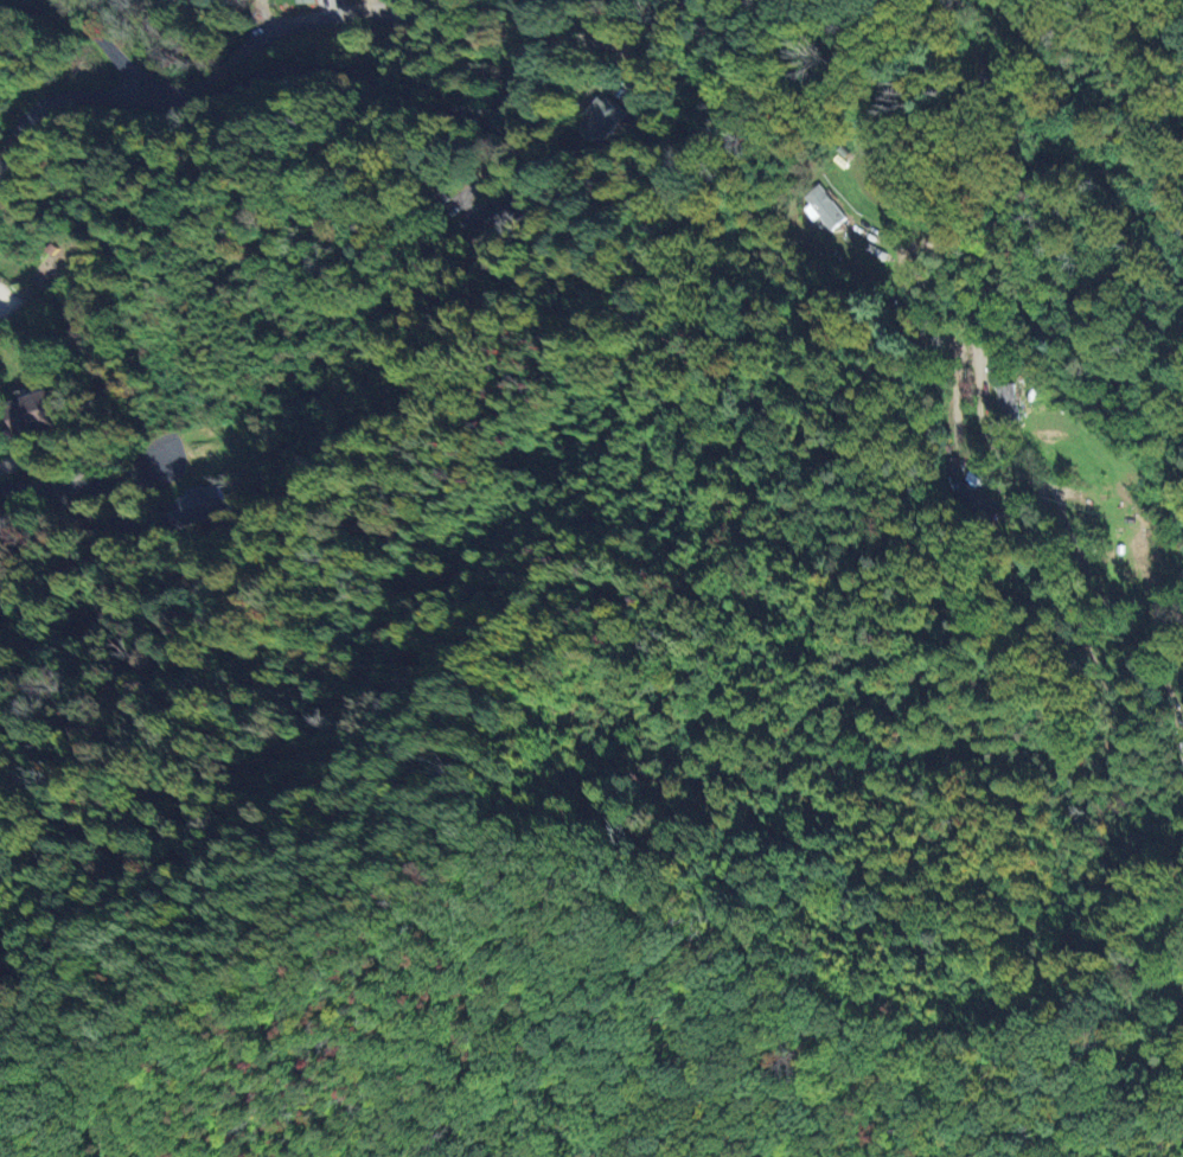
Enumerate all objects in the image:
building: (303, 1)
building: (401, 14)
road: (333, 25)
road: (103, 94)
building: (600, 120)
building: (821, 206)
building: (499, 211)
road: (996, 258)
road: (5, 296)
road: (940, 307)
building: (1006, 397)
building: (33, 413)
road: (75, 482)
building: (196, 507)

